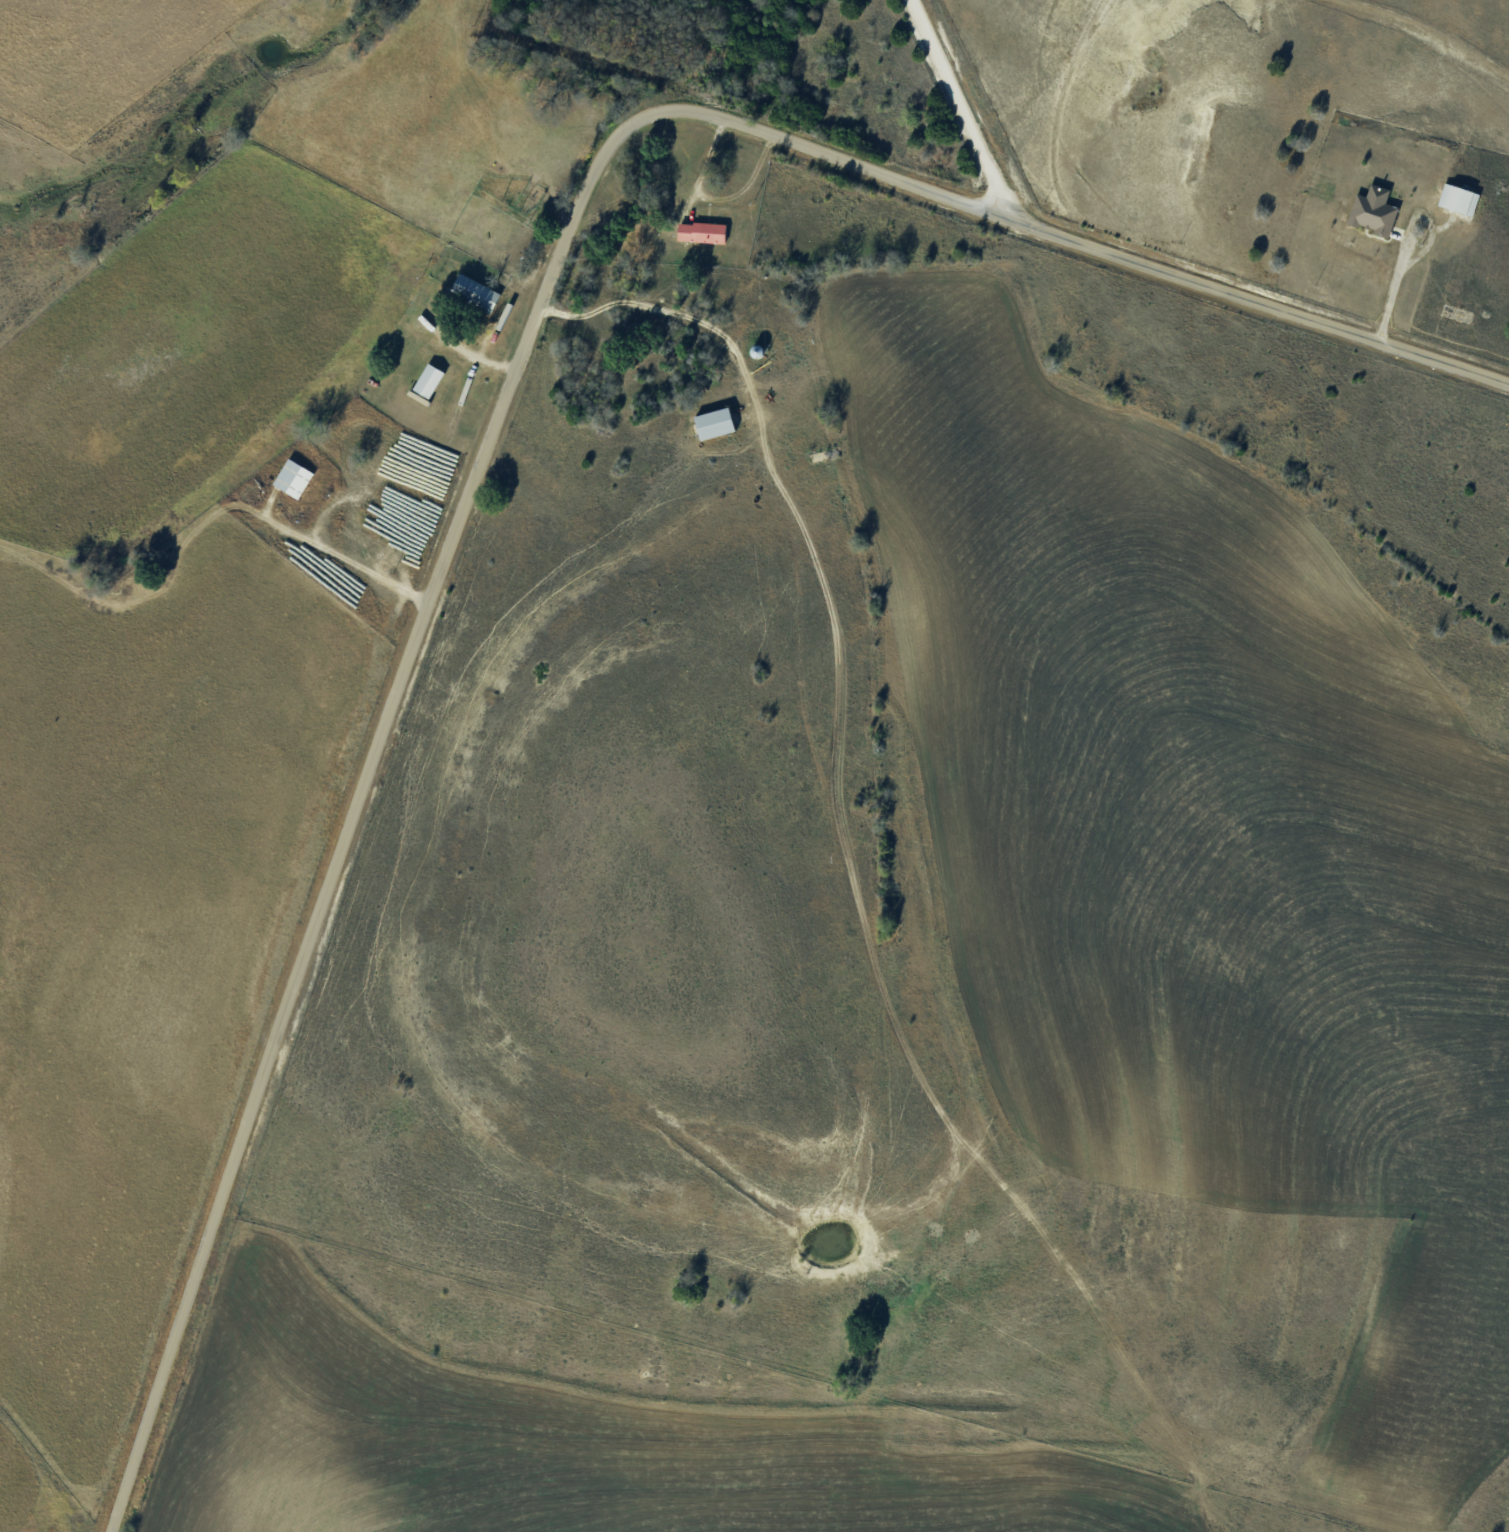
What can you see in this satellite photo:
road: (958, 106)
building: (519, 205)
building: (1372, 216)
building: (701, 232)
building: (475, 293)
building: (757, 351)
building: (428, 381)
road: (507, 383)
building: (715, 423)
building: (293, 478)

